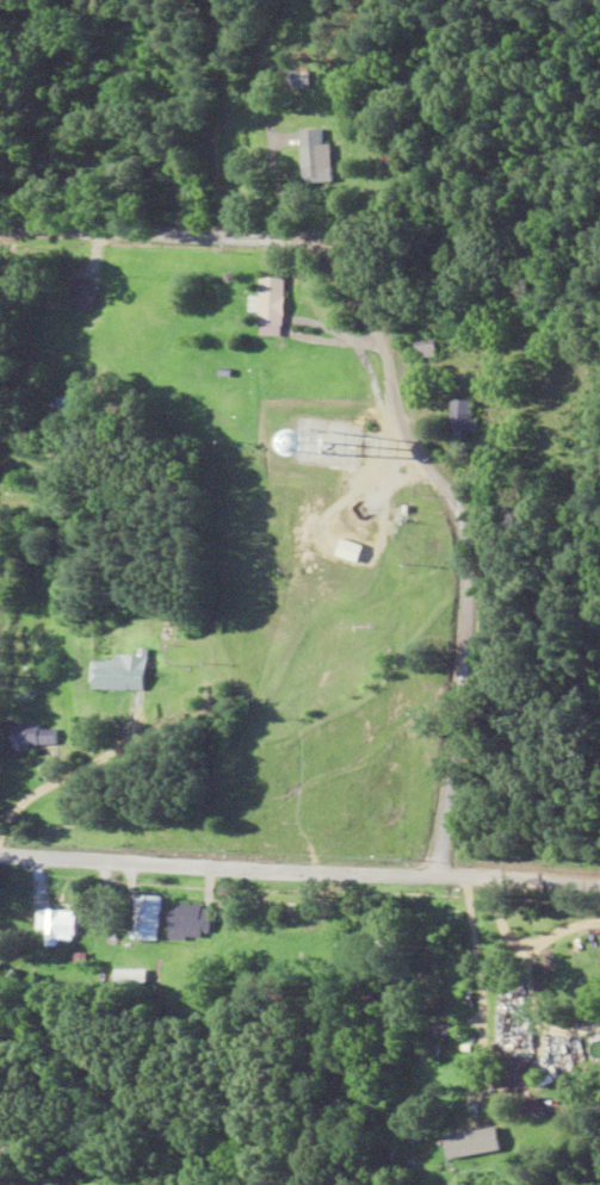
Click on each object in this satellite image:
building: (293, 80)
building: (313, 157)
road: (175, 231)
road: (377, 236)
building: (83, 294)
building: (267, 302)
building: (422, 349)
building: (463, 416)
road: (453, 547)
building: (118, 675)
building: (36, 738)
road: (299, 864)
building: (144, 918)
building: (188, 923)
building: (56, 926)
building: (432, 1041)

